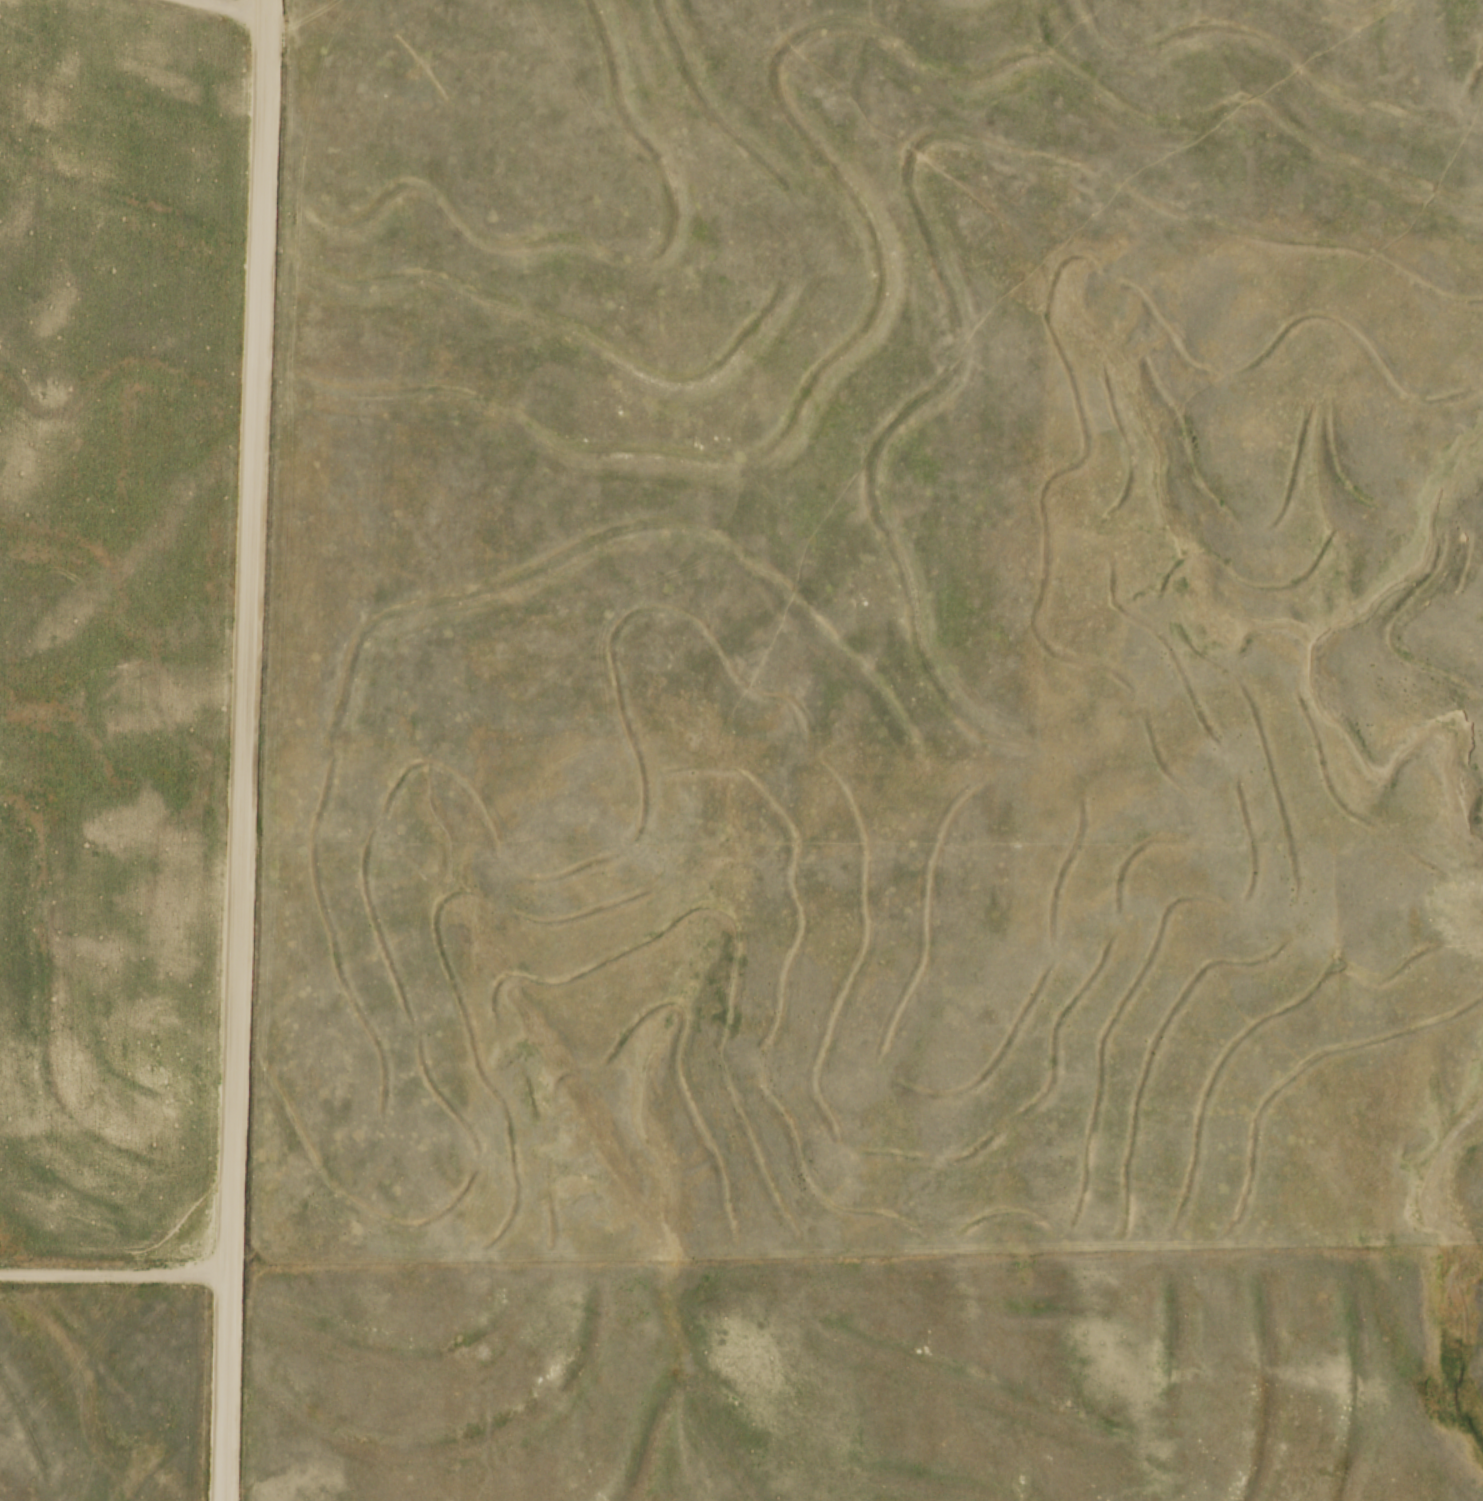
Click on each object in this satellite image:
road: (257, 2)
road: (248, 750)
road: (116, 1272)

